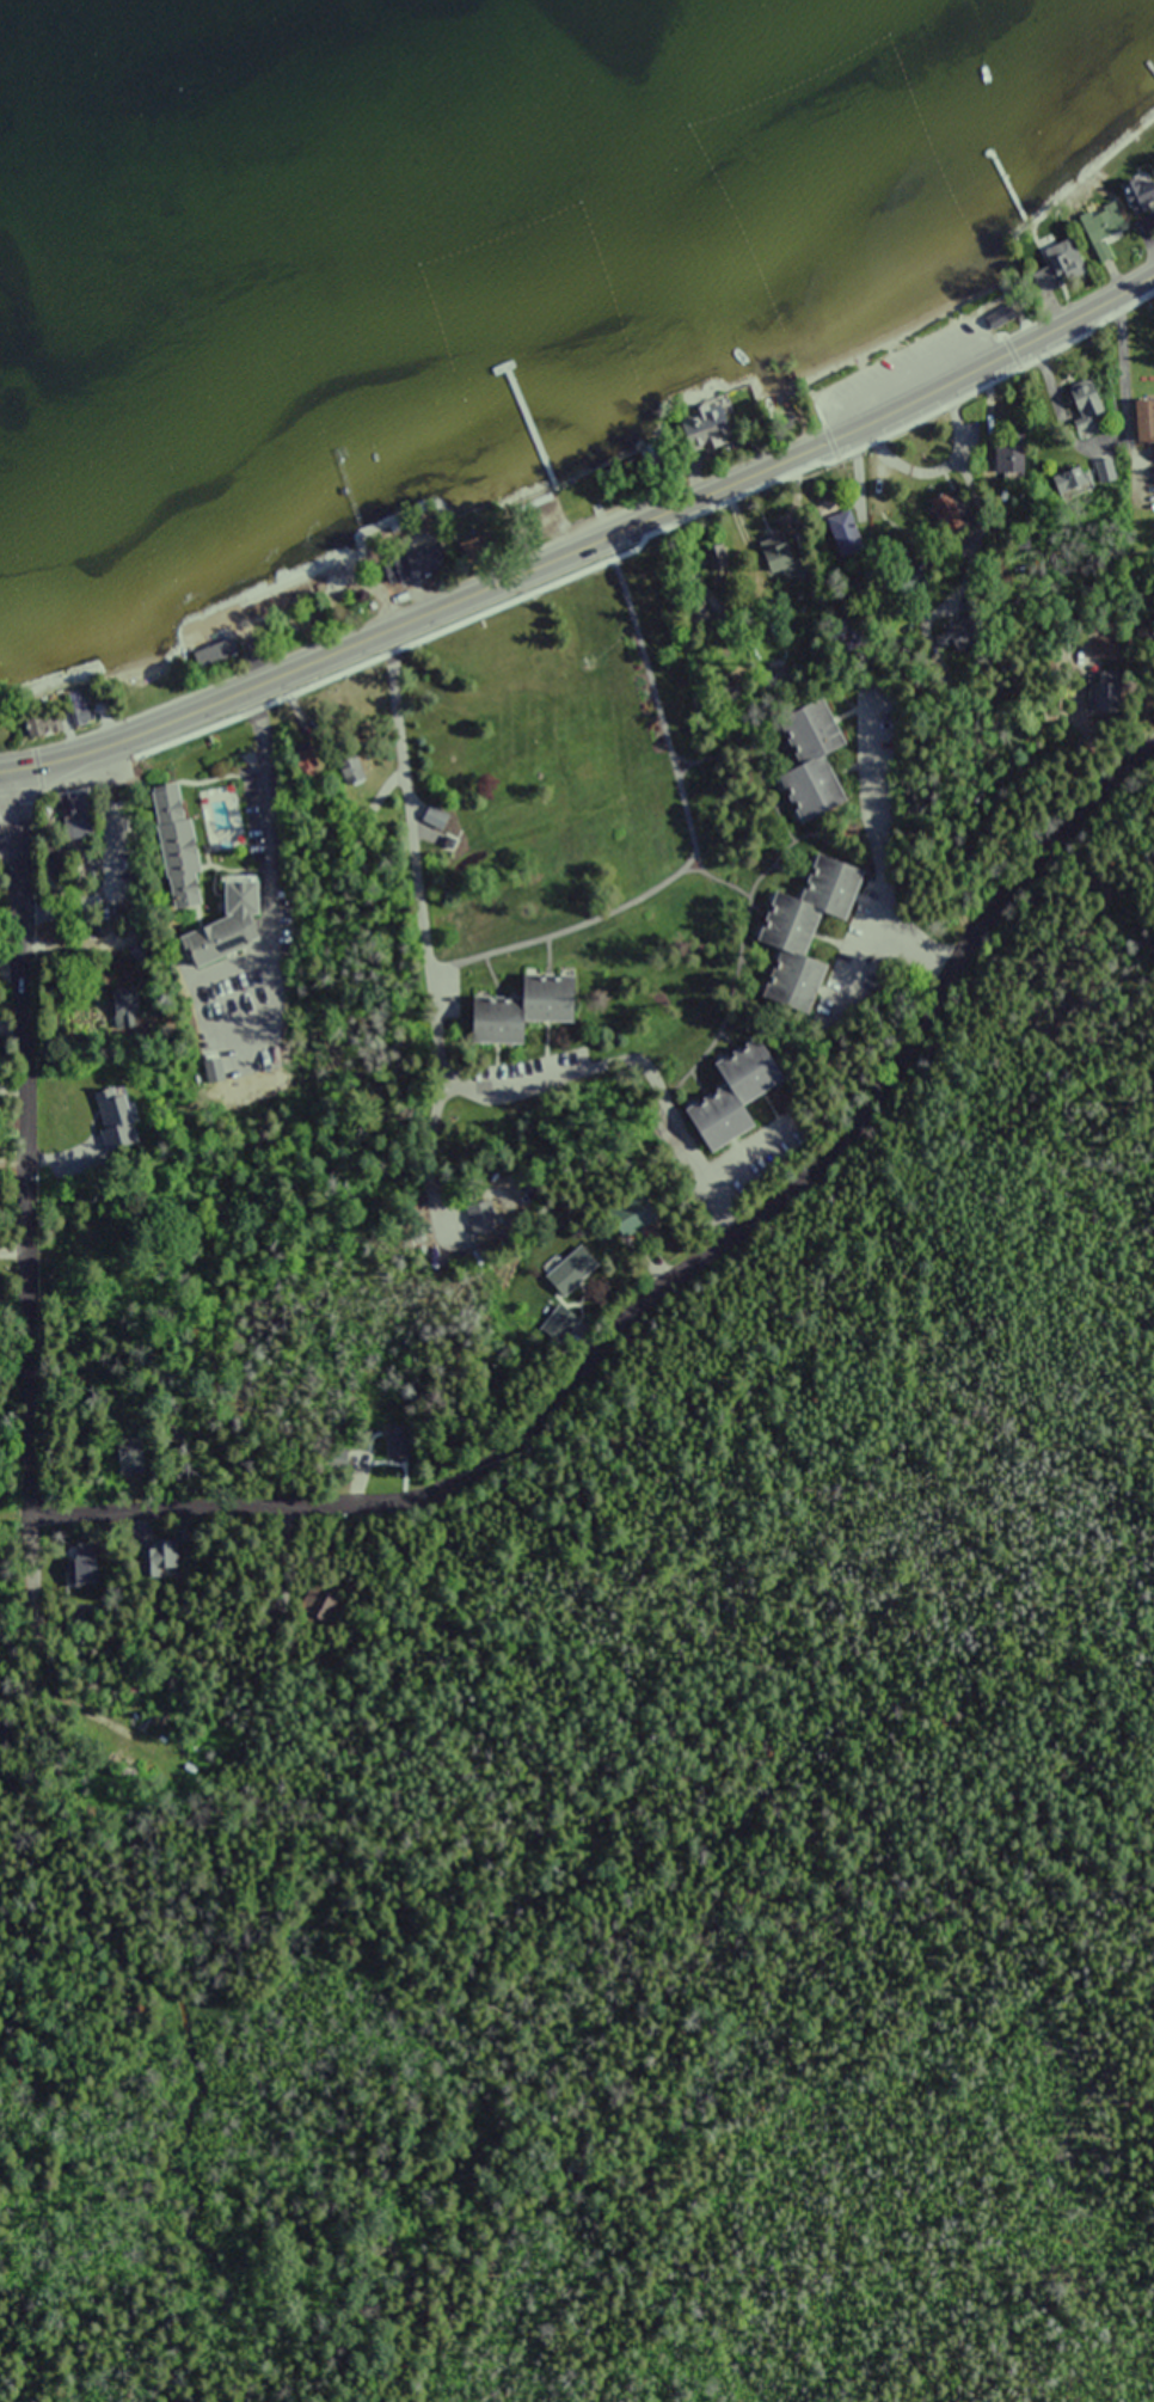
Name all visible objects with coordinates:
building: (1113, 215)
building: (1061, 259)
building: (1084, 399)
building: (1142, 419)
building: (706, 430)
building: (1143, 465)
building: (845, 511)
road: (584, 531)
building: (710, 557)
building: (778, 560)
building: (410, 565)
building: (213, 655)
building: (78, 710)
building: (42, 722)
road: (1143, 752)
building: (808, 760)
building: (349, 770)
building: (61, 799)
road: (269, 808)
building: (434, 816)
building: (195, 887)
building: (800, 932)
building: (512, 1010)
road: (14, 1021)
road: (443, 1040)
building: (729, 1096)
building: (116, 1117)
road: (29, 1146)
road: (14, 1165)
building: (483, 1218)
building: (634, 1220)
road: (16, 1252)
building: (573, 1272)
road: (667, 1286)
road: (37, 1640)

